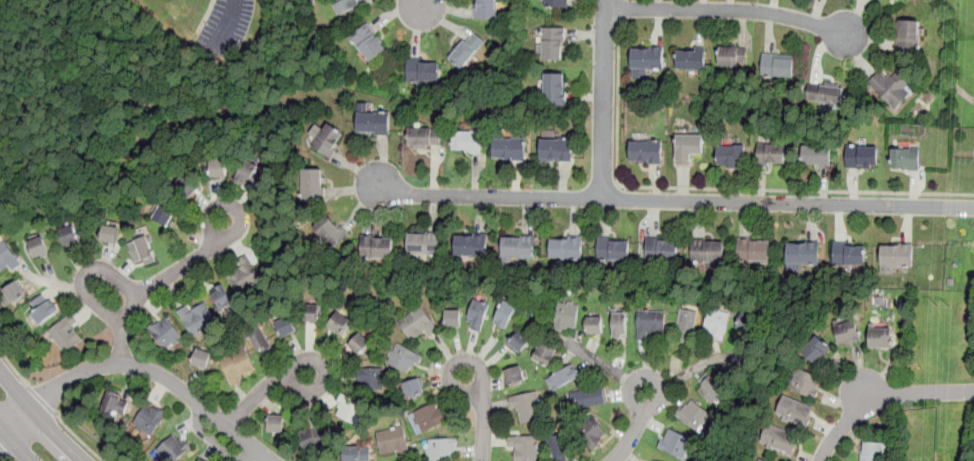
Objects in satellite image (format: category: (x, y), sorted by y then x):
building: (556, 3)
building: (347, 5)
road: (420, 6)
building: (486, 9)
road: (622, 9)
road: (729, 10)
road: (231, 20)
building: (908, 35)
building: (368, 42)
building: (553, 42)
building: (466, 49)
building: (728, 56)
building: (647, 57)
building: (691, 58)
building: (778, 64)
building: (423, 69)
building: (891, 86)
building: (555, 88)
building: (824, 92)
road: (604, 99)
building: (372, 119)
building: (424, 137)
building: (328, 139)
building: (466, 140)
building: (688, 147)
building: (510, 148)
building: (557, 148)
building: (646, 151)
building: (731, 154)
building: (771, 155)
building: (816, 155)
building: (862, 156)
building: (905, 157)
building: (219, 167)
building: (249, 173)
building: (313, 184)
building: (189, 187)
road: (713, 188)
road: (670, 200)
building: (164, 214)
building: (328, 228)
building: (110, 233)
building: (70, 235)
building: (424, 242)
building: (39, 245)
building: (472, 245)
building: (377, 246)
building: (518, 246)
building: (566, 247)
building: (613, 248)
building: (661, 248)
building: (753, 249)
building: (142, 250)
building: (707, 250)
building: (802, 253)
building: (849, 253)
building: (896, 254)
building: (7, 257)
road: (84, 275)
building: (244, 276)
road: (158, 281)
building: (13, 292)
building: (222, 296)
power tower: (942, 305)
building: (44, 308)
building: (311, 314)
building: (505, 314)
building: (478, 315)
building: (565, 315)
building: (198, 317)
building: (453, 317)
building: (746, 321)
building: (338, 322)
building: (650, 322)
building: (716, 322)
building: (686, 323)
building: (417, 324)
building: (619, 324)
building: (594, 325)
building: (285, 326)
building: (847, 331)
building: (66, 333)
building: (166, 334)
building: (880, 337)
building: (259, 339)
building: (519, 341)
building: (358, 343)
building: (816, 350)
building: (545, 354)
building: (201, 357)
building: (403, 357)
building: (237, 364)
road: (603, 366)
road: (13, 367)
road: (144, 367)
road: (687, 370)
building: (371, 376)
building: (514, 376)
building: (562, 377)
building: (806, 383)
building: (413, 388)
road: (263, 389)
building: (712, 389)
building: (587, 397)
road: (40, 398)
road: (883, 398)
building: (115, 405)
building: (351, 408)
building: (527, 408)
building: (794, 411)
road: (482, 413)
building: (693, 414)
road: (39, 417)
building: (428, 417)
building: (149, 419)
building: (276, 422)
road: (634, 428)
building: (591, 432)
road: (3, 434)
building: (314, 434)
road: (77, 438)
building: (779, 439)
road: (16, 441)
building: (392, 442)
building: (674, 442)
building: (557, 446)
building: (524, 447)
building: (172, 448)
building: (441, 449)
road: (3, 450)
building: (871, 451)
building: (351, 454)
road: (9, 457)
building: (202, 460)
building: (654, 460)
building: (761, 460)

